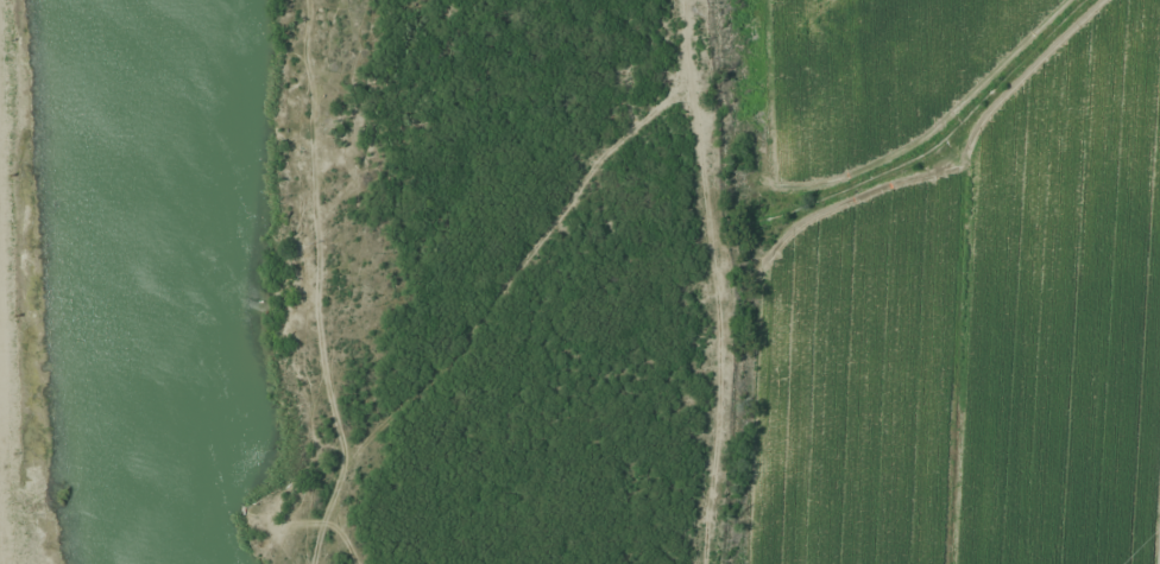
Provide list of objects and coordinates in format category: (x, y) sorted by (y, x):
river: (157, 281)

